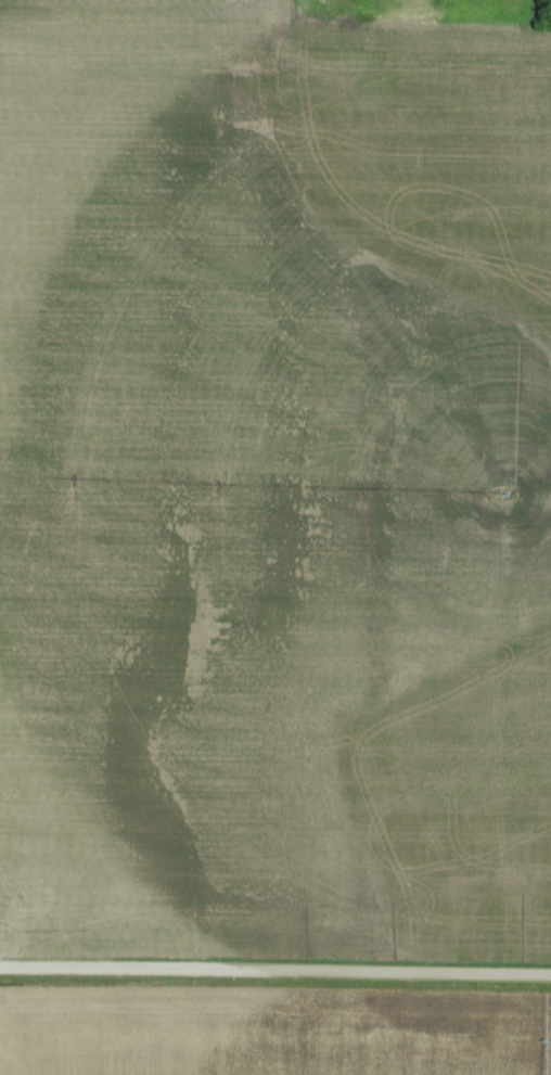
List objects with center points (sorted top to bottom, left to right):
road: (275, 969)

